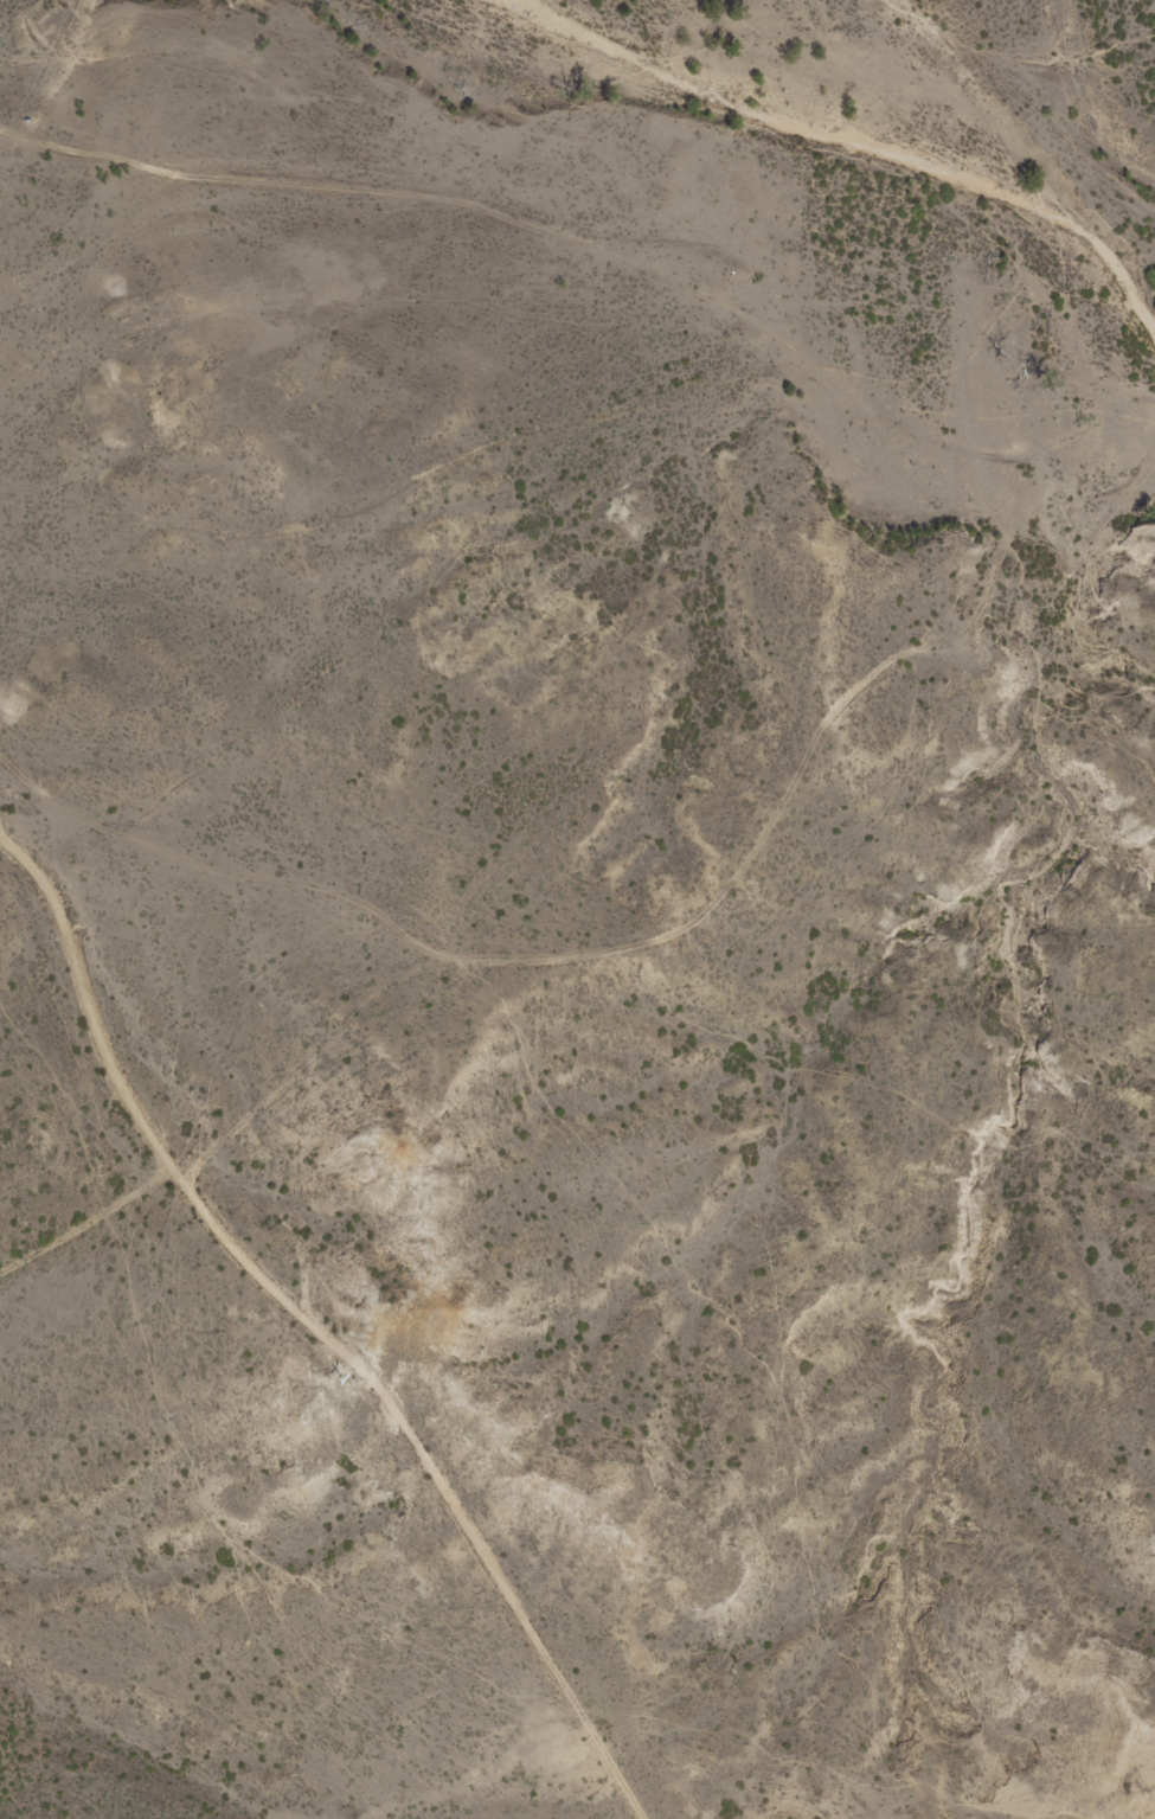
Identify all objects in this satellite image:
river: (848, 148)

